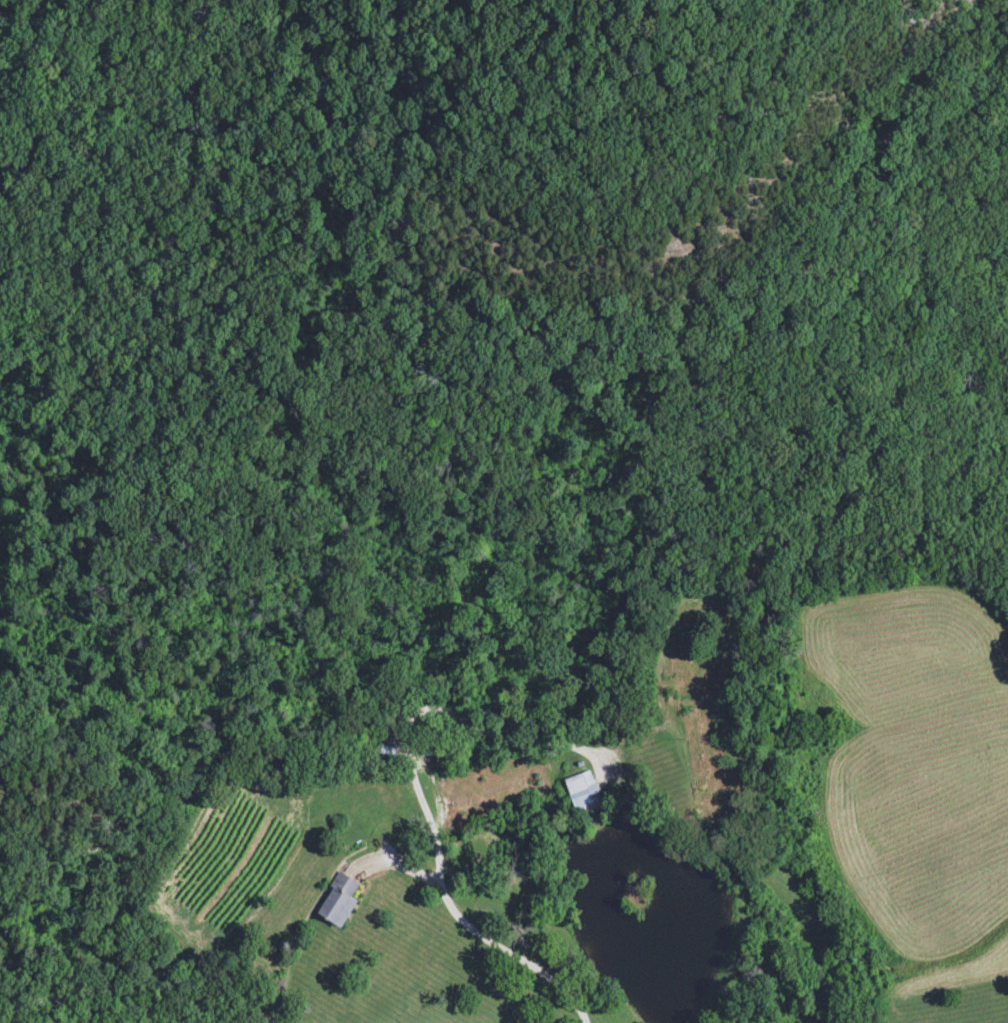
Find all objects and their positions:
building: (579, 792)
road: (423, 803)
building: (336, 902)

